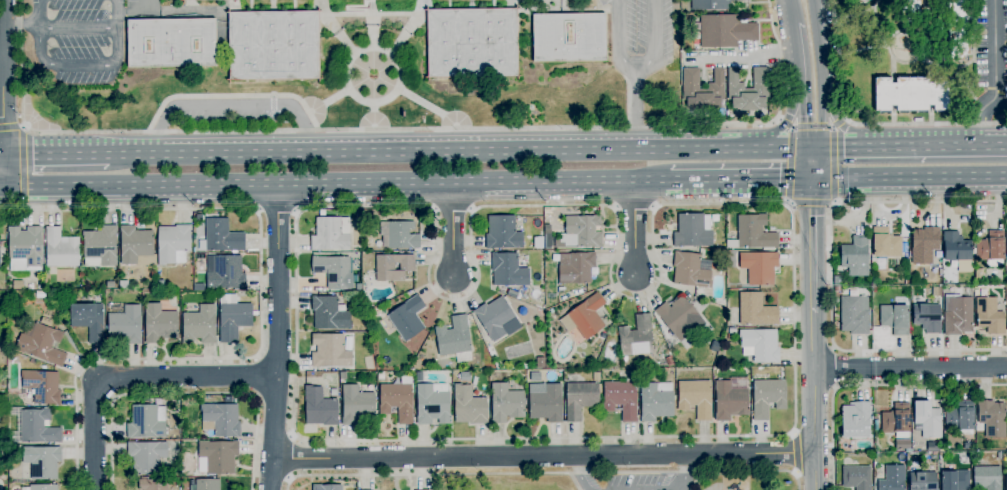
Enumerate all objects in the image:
building: (200, 0)
building: (862, 1)
road: (795, 3)
building: (710, 5)
building: (906, 8)
road: (132, 11)
road: (857, 14)
road: (34, 26)
building: (956, 27)
road: (877, 29)
building: (725, 31)
road: (112, 32)
parking lot: (641, 36)
building: (569, 37)
parking lot: (72, 41)
road: (39, 43)
building: (171, 43)
building: (472, 43)
building: (274, 45)
road: (1, 54)
road: (972, 62)
road: (906, 63)
road: (820, 74)
road: (956, 75)
road: (995, 76)
road: (803, 77)
road: (636, 86)
building: (703, 90)
building: (748, 90)
road: (3, 94)
building: (911, 94)
road: (230, 104)
parking lot: (235, 116)
road: (788, 117)
road: (637, 118)
road: (836, 118)
road: (838, 121)
road: (783, 123)
road: (865, 125)
road: (10, 127)
road: (812, 127)
road: (395, 129)
road: (909, 146)
road: (454, 151)
road: (3, 153)
road: (51, 154)
road: (789, 165)
road: (813, 165)
road: (833, 165)
road: (910, 181)
road: (739, 183)
road: (337, 186)
road: (4, 188)
road: (811, 204)
road: (276, 212)
building: (583, 231)
road: (637, 231)
building: (693, 231)
building: (754, 232)
road: (452, 233)
building: (502, 233)
building: (331, 234)
building: (401, 235)
building: (222, 236)
building: (547, 242)
building: (173, 244)
building: (885, 244)
building: (924, 245)
building: (1006, 245)
building: (100, 247)
building: (136, 247)
road: (813, 247)
building: (956, 247)
building: (24, 249)
building: (61, 249)
building: (991, 249)
building: (855, 256)
road: (791, 260)
building: (1006, 266)
building: (393, 267)
building: (759, 267)
building: (575, 268)
building: (508, 270)
building: (691, 270)
building: (334, 271)
building: (2, 272)
building: (224, 272)
road: (832, 274)
building: (47, 279)
building: (837, 281)
building: (3, 283)
building: (110, 284)
building: (151, 284)
building: (123, 285)
building: (160, 285)
building: (16, 287)
building: (30, 287)
building: (40, 287)
building: (358, 288)
building: (837, 289)
building: (936, 292)
building: (343, 295)
building: (85, 297)
road: (260, 308)
building: (755, 310)
building: (522, 311)
building: (255, 313)
building: (329, 314)
building: (854, 315)
building: (957, 316)
building: (989, 316)
building: (585, 317)
building: (895, 317)
building: (927, 317)
building: (232, 318)
building: (407, 318)
building: (679, 318)
building: (496, 319)
building: (88, 320)
building: (46, 321)
building: (1006, 322)
building: (159, 323)
building: (125, 325)
building: (199, 325)
building: (733, 330)
building: (453, 337)
building: (636, 337)
road: (276, 338)
building: (418, 339)
building: (41, 343)
building: (760, 345)
building: (413, 347)
building: (330, 351)
building: (669, 361)
building: (540, 363)
road: (834, 368)
road: (910, 368)
building: (418, 374)
building: (381, 375)
road: (132, 376)
building: (342, 376)
building: (556, 376)
road: (255, 377)
building: (596, 377)
road: (870, 385)
building: (42, 386)
road: (186, 393)
building: (767, 397)
building: (621, 398)
building: (695, 398)
building: (580, 399)
building: (397, 401)
building: (656, 401)
building: (729, 401)
road: (814, 401)
building: (432, 404)
building: (505, 404)
building: (546, 404)
building: (357, 406)
building: (468, 406)
building: (319, 408)
building: (1, 413)
building: (960, 417)
building: (992, 418)
building: (927, 419)
building: (221, 420)
building: (856, 420)
building: (896, 421)
building: (146, 422)
building: (38, 427)
building: (902, 445)
building: (969, 446)
building: (979, 448)
road: (792, 453)
road: (291, 456)
building: (146, 457)
building: (217, 457)
road: (544, 457)
building: (40, 462)
building: (187, 467)
road: (578, 473)
road: (545, 474)
road: (684, 474)
building: (856, 477)
building: (892, 478)
building: (986, 478)
building: (955, 480)
road: (694, 481)
building: (922, 481)
building: (1006, 481)
road: (576, 482)
building: (152, 484)
building: (207, 485)
building: (41, 487)
building: (326, 487)

